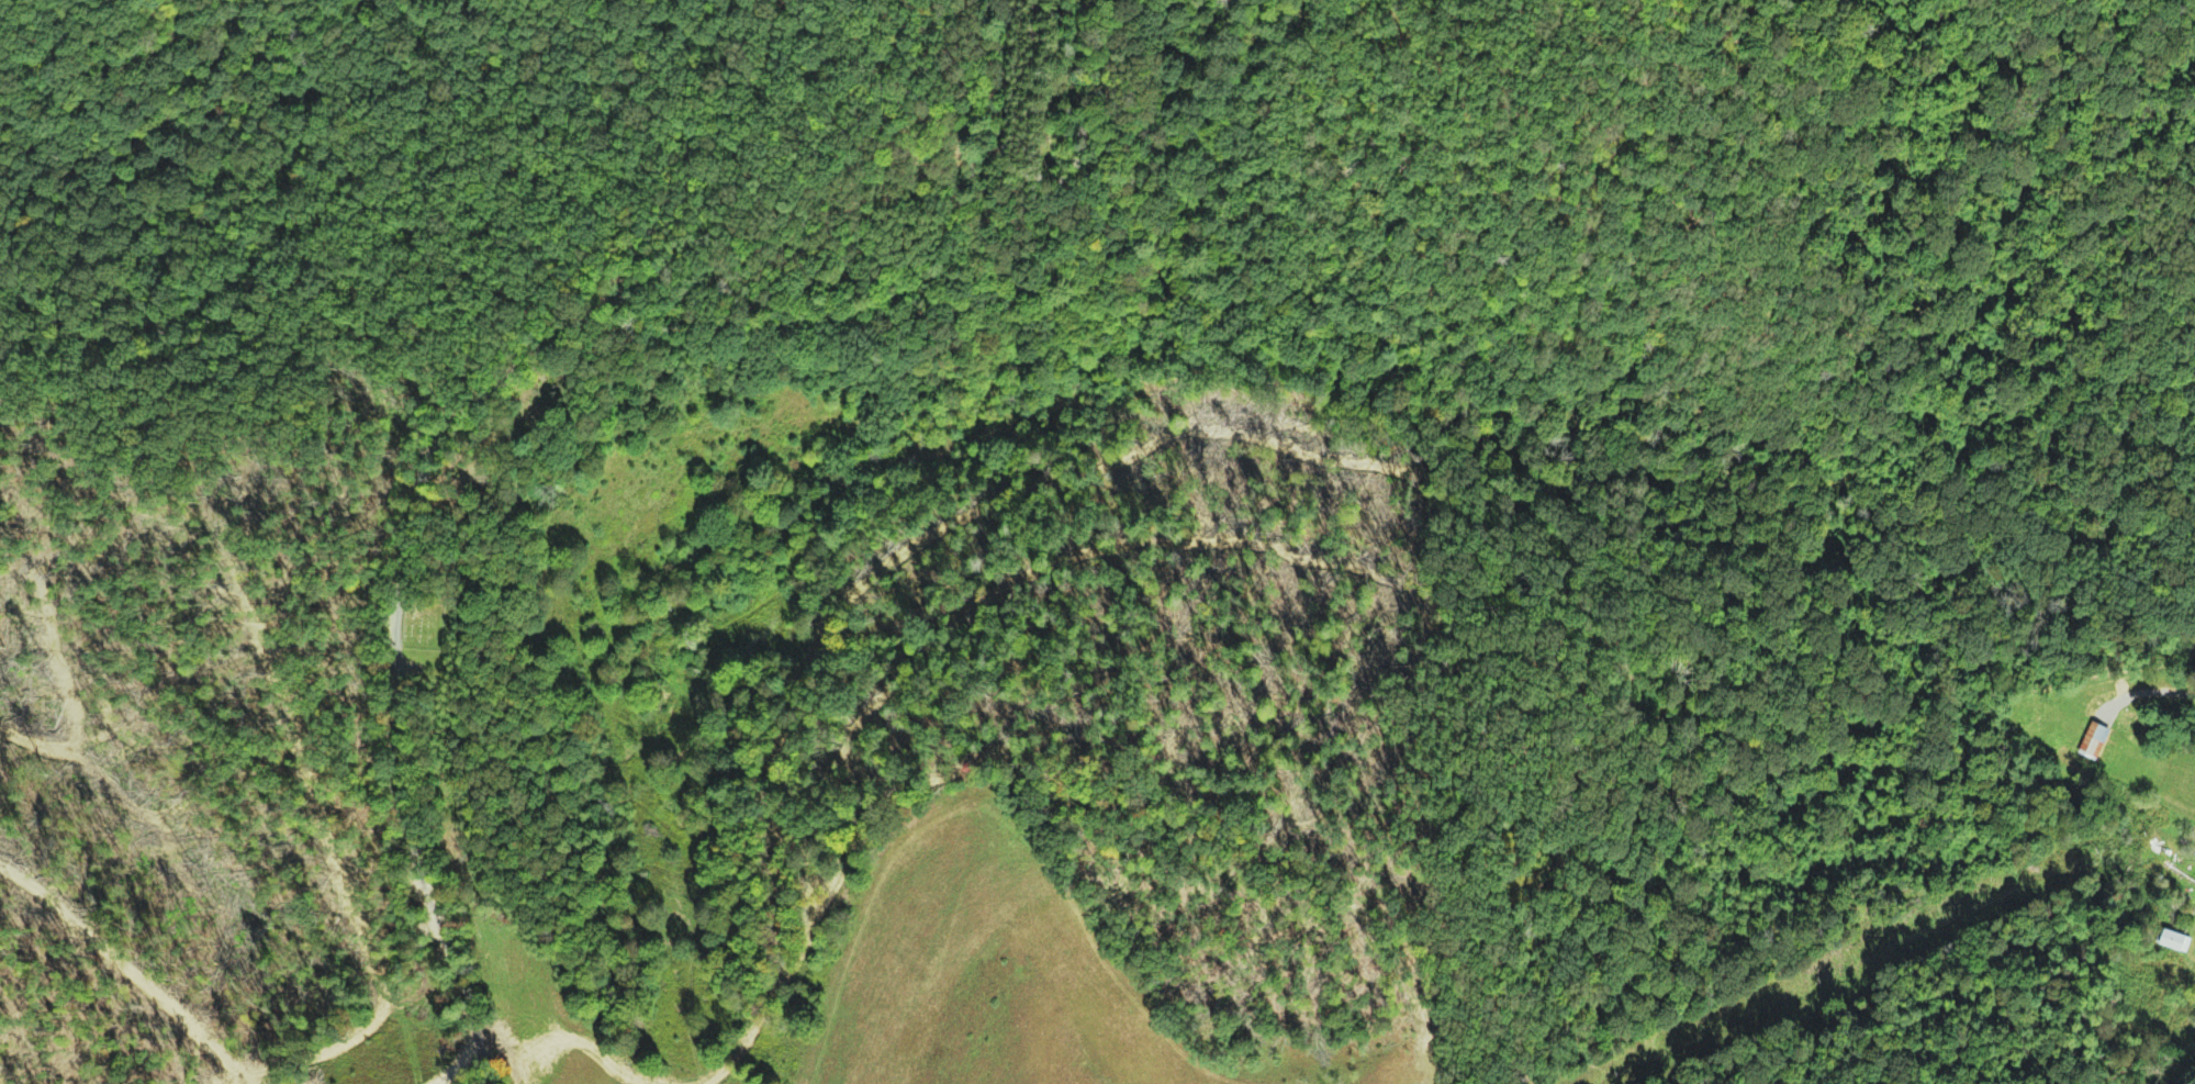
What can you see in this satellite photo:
road: (444, 433)
building: (2094, 740)
building: (2174, 939)

